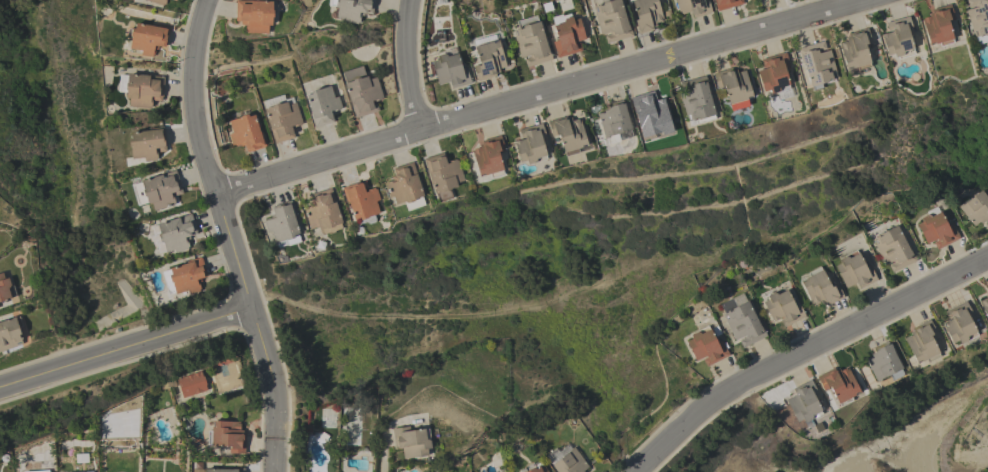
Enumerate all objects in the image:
building: (173, 0)
building: (174, 0)
building: (157, 1)
building: (726, 3)
building: (693, 7)
building: (352, 9)
building: (646, 14)
building: (254, 15)
building: (978, 19)
building: (612, 20)
building: (938, 25)
building: (566, 34)
building: (148, 38)
building: (898, 38)
building: (531, 41)
building: (855, 51)
building: (487, 57)
building: (817, 63)
road: (406, 64)
building: (450, 69)
building: (775, 75)
building: (733, 85)
building: (143, 89)
building: (361, 91)
road: (536, 93)
building: (696, 100)
building: (322, 105)
building: (649, 111)
building: (282, 120)
building: (614, 122)
building: (246, 133)
building: (568, 134)
building: (147, 143)
building: (531, 144)
building: (488, 156)
building: (442, 175)
building: (405, 187)
building: (157, 190)
building: (360, 199)
building: (976, 208)
building: (322, 210)
building: (283, 223)
building: (936, 229)
building: (176, 232)
road: (229, 235)
building: (893, 248)
building: (854, 271)
building: (187, 276)
building: (4, 288)
building: (820, 288)
building: (987, 290)
building: (984, 305)
building: (782, 308)
building: (741, 320)
building: (959, 323)
building: (9, 333)
building: (921, 342)
road: (126, 347)
building: (706, 347)
road: (801, 351)
building: (883, 362)
building: (191, 384)
building: (838, 384)
building: (804, 403)
building: (227, 436)
building: (411, 441)
building: (566, 460)
building: (537, 469)
building: (223, 470)
building: (36, 471)
building: (87, 471)

